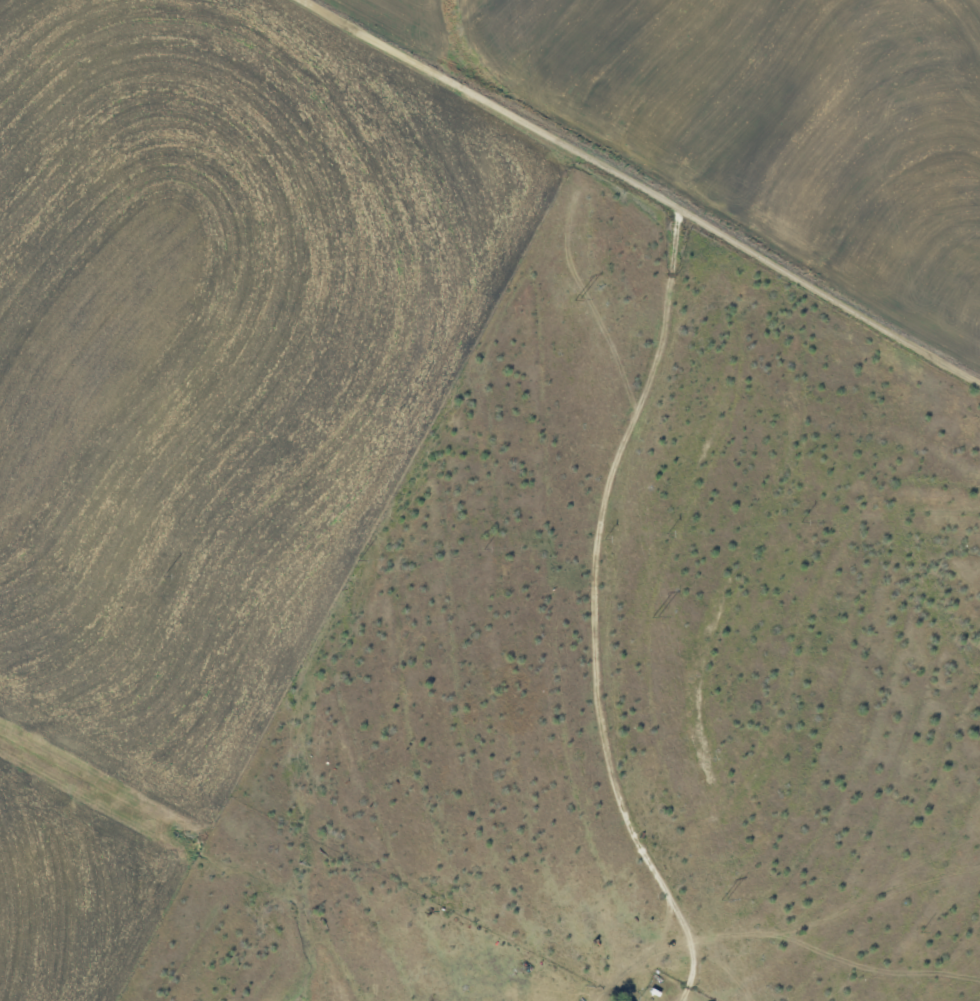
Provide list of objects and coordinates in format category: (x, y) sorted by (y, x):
road: (646, 186)
power tower: (579, 298)
road: (626, 411)
power tower: (654, 616)
road: (633, 830)
power tower: (725, 899)
building: (622, 1000)

